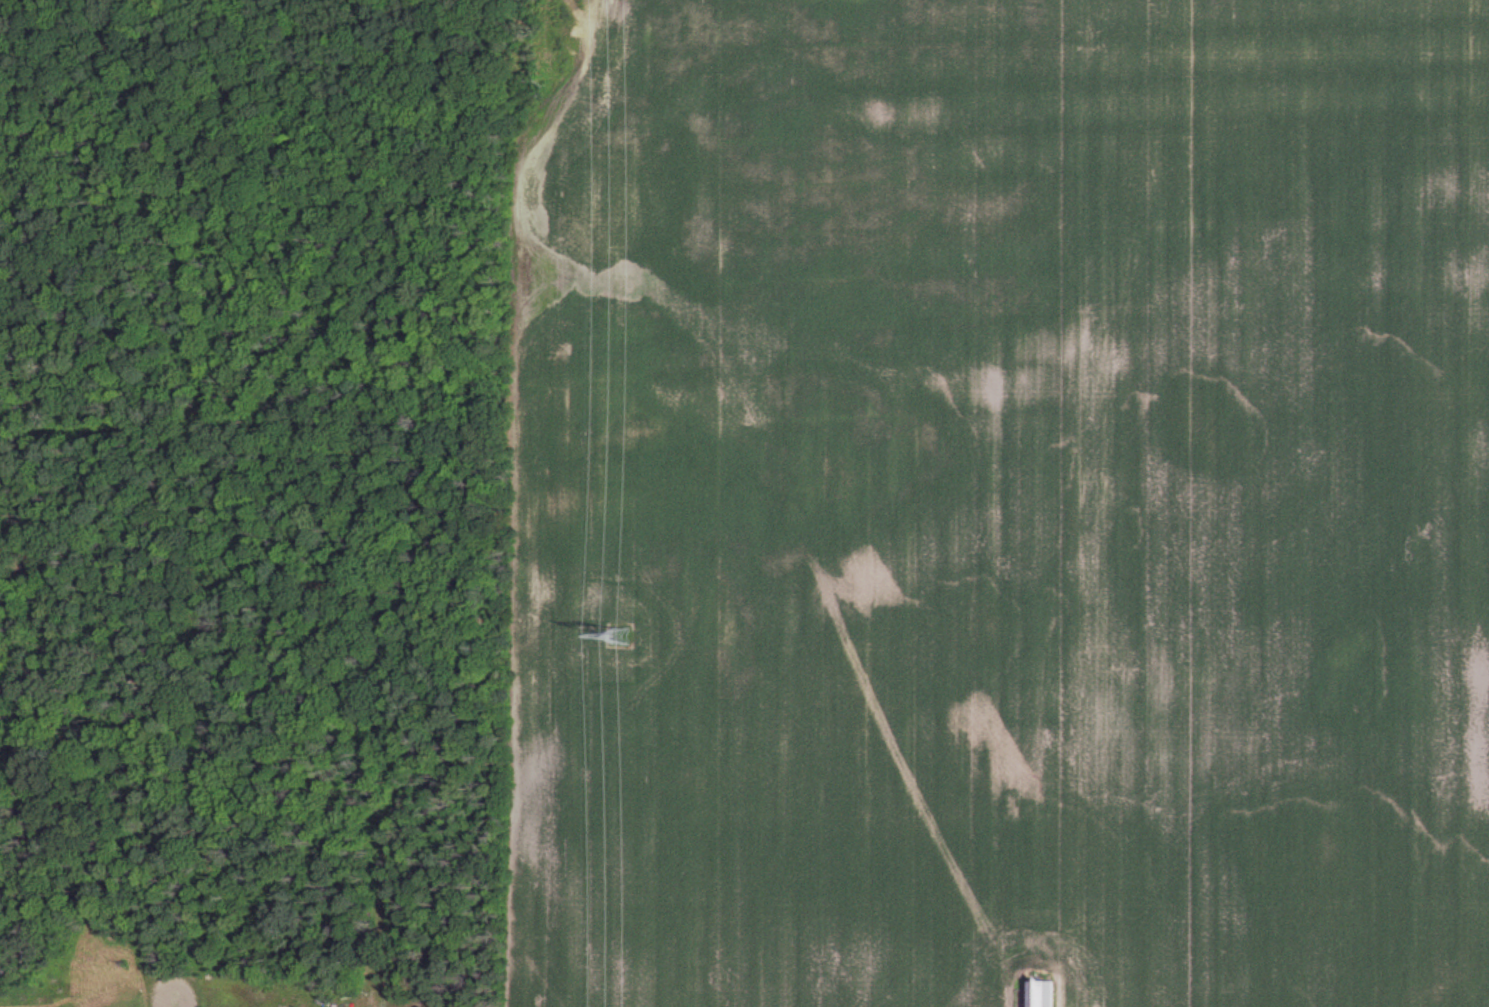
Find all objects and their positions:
power tower: (621, 636)
building: (1041, 994)

